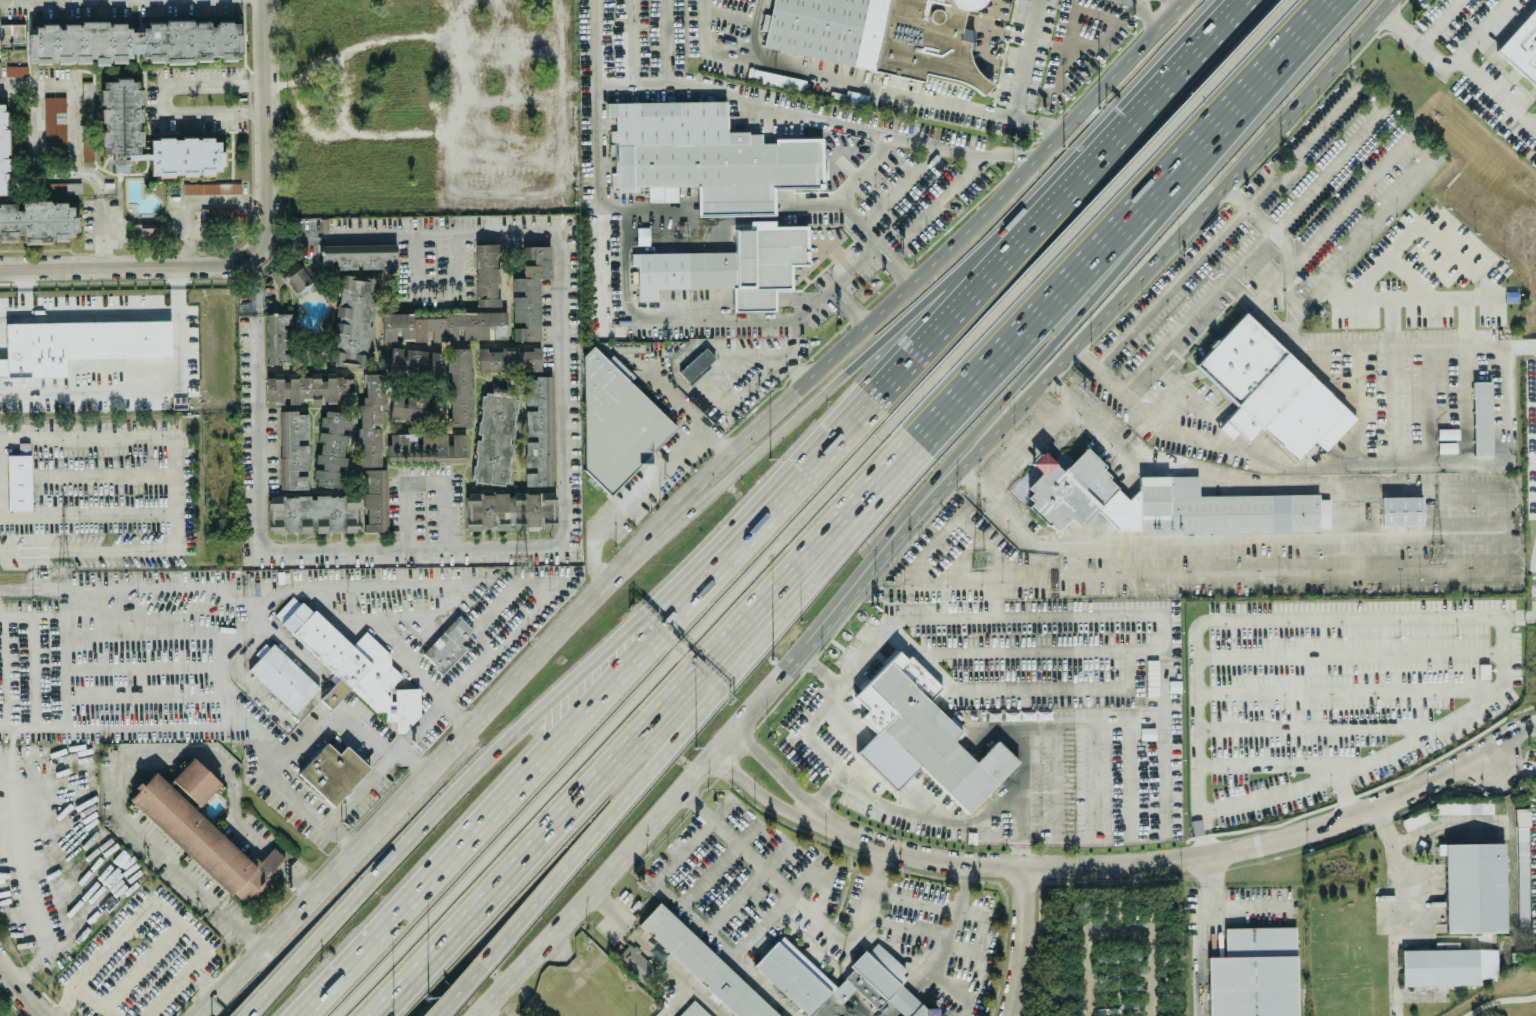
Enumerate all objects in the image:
road: (1180, 0)
road: (1133, 1)
road: (1146, 10)
road: (457, 20)
road: (1439, 22)
road: (755, 29)
road: (1310, 30)
building: (11, 34)
building: (877, 35)
road: (265, 36)
road: (1206, 39)
building: (133, 41)
road: (667, 42)
road: (596, 43)
road: (632, 43)
building: (1521, 45)
road: (457, 57)
road: (1022, 58)
road: (1448, 65)
building: (15, 70)
road: (862, 83)
road: (266, 90)
road: (1496, 92)
road: (167, 94)
road: (773, 108)
building: (86, 115)
building: (54, 121)
building: (120, 122)
road: (1534, 126)
road: (1157, 139)
road: (78, 140)
road: (1303, 145)
road: (39, 149)
road: (268, 150)
building: (706, 156)
road: (1018, 157)
road: (560, 171)
road: (1325, 171)
road: (859, 173)
road: (898, 185)
building: (211, 187)
road: (601, 187)
road: (194, 192)
road: (941, 192)
road: (1242, 192)
road: (1346, 203)
building: (30, 207)
road: (665, 211)
building: (212, 212)
road: (269, 216)
road: (846, 216)
building: (145, 229)
road: (1362, 238)
building: (356, 255)
road: (603, 257)
road: (568, 260)
road: (136, 261)
road: (904, 262)
building: (729, 265)
road: (861, 269)
building: (485, 273)
building: (290, 274)
road: (441, 290)
building: (529, 291)
road: (902, 295)
road: (967, 303)
road: (1198, 308)
road: (850, 310)
road: (78, 311)
building: (352, 320)
road: (681, 321)
road: (1290, 322)
building: (443, 324)
road: (1095, 324)
road: (892, 332)
building: (277, 337)
building: (78, 343)
road: (1089, 353)
road: (734, 354)
building: (508, 358)
building: (413, 360)
building: (695, 363)
road: (769, 368)
building: (459, 385)
road: (149, 386)
building: (306, 387)
building: (1270, 390)
road: (1006, 394)
road: (689, 404)
building: (408, 406)
building: (1481, 418)
building: (369, 420)
building: (615, 420)
building: (537, 430)
building: (494, 434)
building: (425, 446)
building: (292, 448)
building: (331, 449)
road: (1286, 466)
road: (430, 472)
road: (993, 474)
road: (972, 477)
building: (18, 481)
road: (650, 485)
road: (174, 491)
building: (375, 499)
building: (1158, 501)
building: (508, 509)
building: (1400, 510)
building: (311, 513)
road: (830, 535)
road: (1228, 536)
power tower: (1433, 552)
road: (266, 554)
power tower: (974, 558)
road: (601, 563)
power tower: (60, 572)
power tower: (517, 572)
road: (1471, 574)
road: (1535, 586)
road: (28, 587)
road: (169, 587)
road: (75, 601)
road: (499, 603)
road: (163, 612)
road: (46, 613)
road: (941, 616)
road: (383, 618)
road: (238, 630)
road: (1195, 638)
road: (147, 639)
building: (447, 644)
road: (679, 648)
road: (862, 650)
road: (799, 652)
road: (1533, 656)
building: (355, 666)
road: (474, 669)
road: (819, 669)
road: (5, 670)
road: (35, 670)
road: (141, 670)
building: (281, 676)
road: (418, 678)
road: (1030, 689)
road: (715, 692)
road: (768, 694)
road: (1164, 694)
road: (143, 702)
road: (325, 718)
road: (1445, 720)
road: (844, 722)
road: (1535, 724)
road: (109, 726)
road: (20, 727)
road: (50, 727)
road: (2, 728)
road: (806, 728)
building: (920, 738)
road: (723, 745)
road: (490, 753)
road: (1513, 757)
road: (884, 760)
road: (775, 769)
building: (332, 772)
road: (532, 773)
building: (195, 780)
road: (364, 786)
road: (119, 789)
road: (756, 791)
road: (823, 791)
road: (405, 797)
road: (925, 798)
building: (1464, 807)
road: (722, 808)
road: (933, 816)
road: (246, 828)
road: (747, 832)
building: (195, 836)
road: (1020, 849)
road: (777, 855)
road: (1180, 858)
building: (1521, 865)
road: (823, 870)
road: (708, 874)
building: (1473, 885)
road: (598, 889)
road: (915, 895)
road: (736, 900)
road: (801, 903)
road: (1218, 907)
road: (975, 909)
road: (227, 913)
road: (695, 918)
road: (622, 919)
road: (1127, 930)
road: (944, 932)
road: (1022, 942)
road: (108, 945)
road: (968, 947)
building: (657, 950)
road: (939, 950)
road: (655, 952)
building: (635, 962)
building: (703, 963)
road: (190, 965)
building: (1446, 965)
road: (140, 966)
road: (2, 968)
road: (6, 969)
building: (1253, 973)
building: (872, 978)
road: (948, 979)
road: (203, 982)
road: (763, 985)
road: (460, 986)
road: (692, 987)
road: (461, 993)
road: (29, 998)
road: (902, 999)
road: (1497, 999)
road: (676, 1000)
road: (97, 1003)
road: (843, 1006)
building: (692, 1010)
road: (891, 1011)
road: (488, 1013)
road: (244, 1014)

